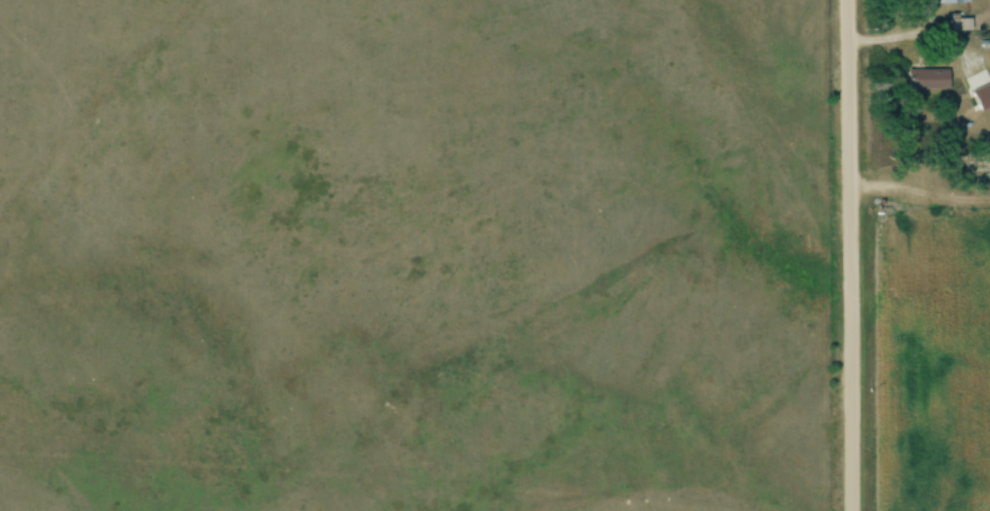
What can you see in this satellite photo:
building: (948, 1)
road: (895, 37)
building: (925, 80)
road: (844, 255)

